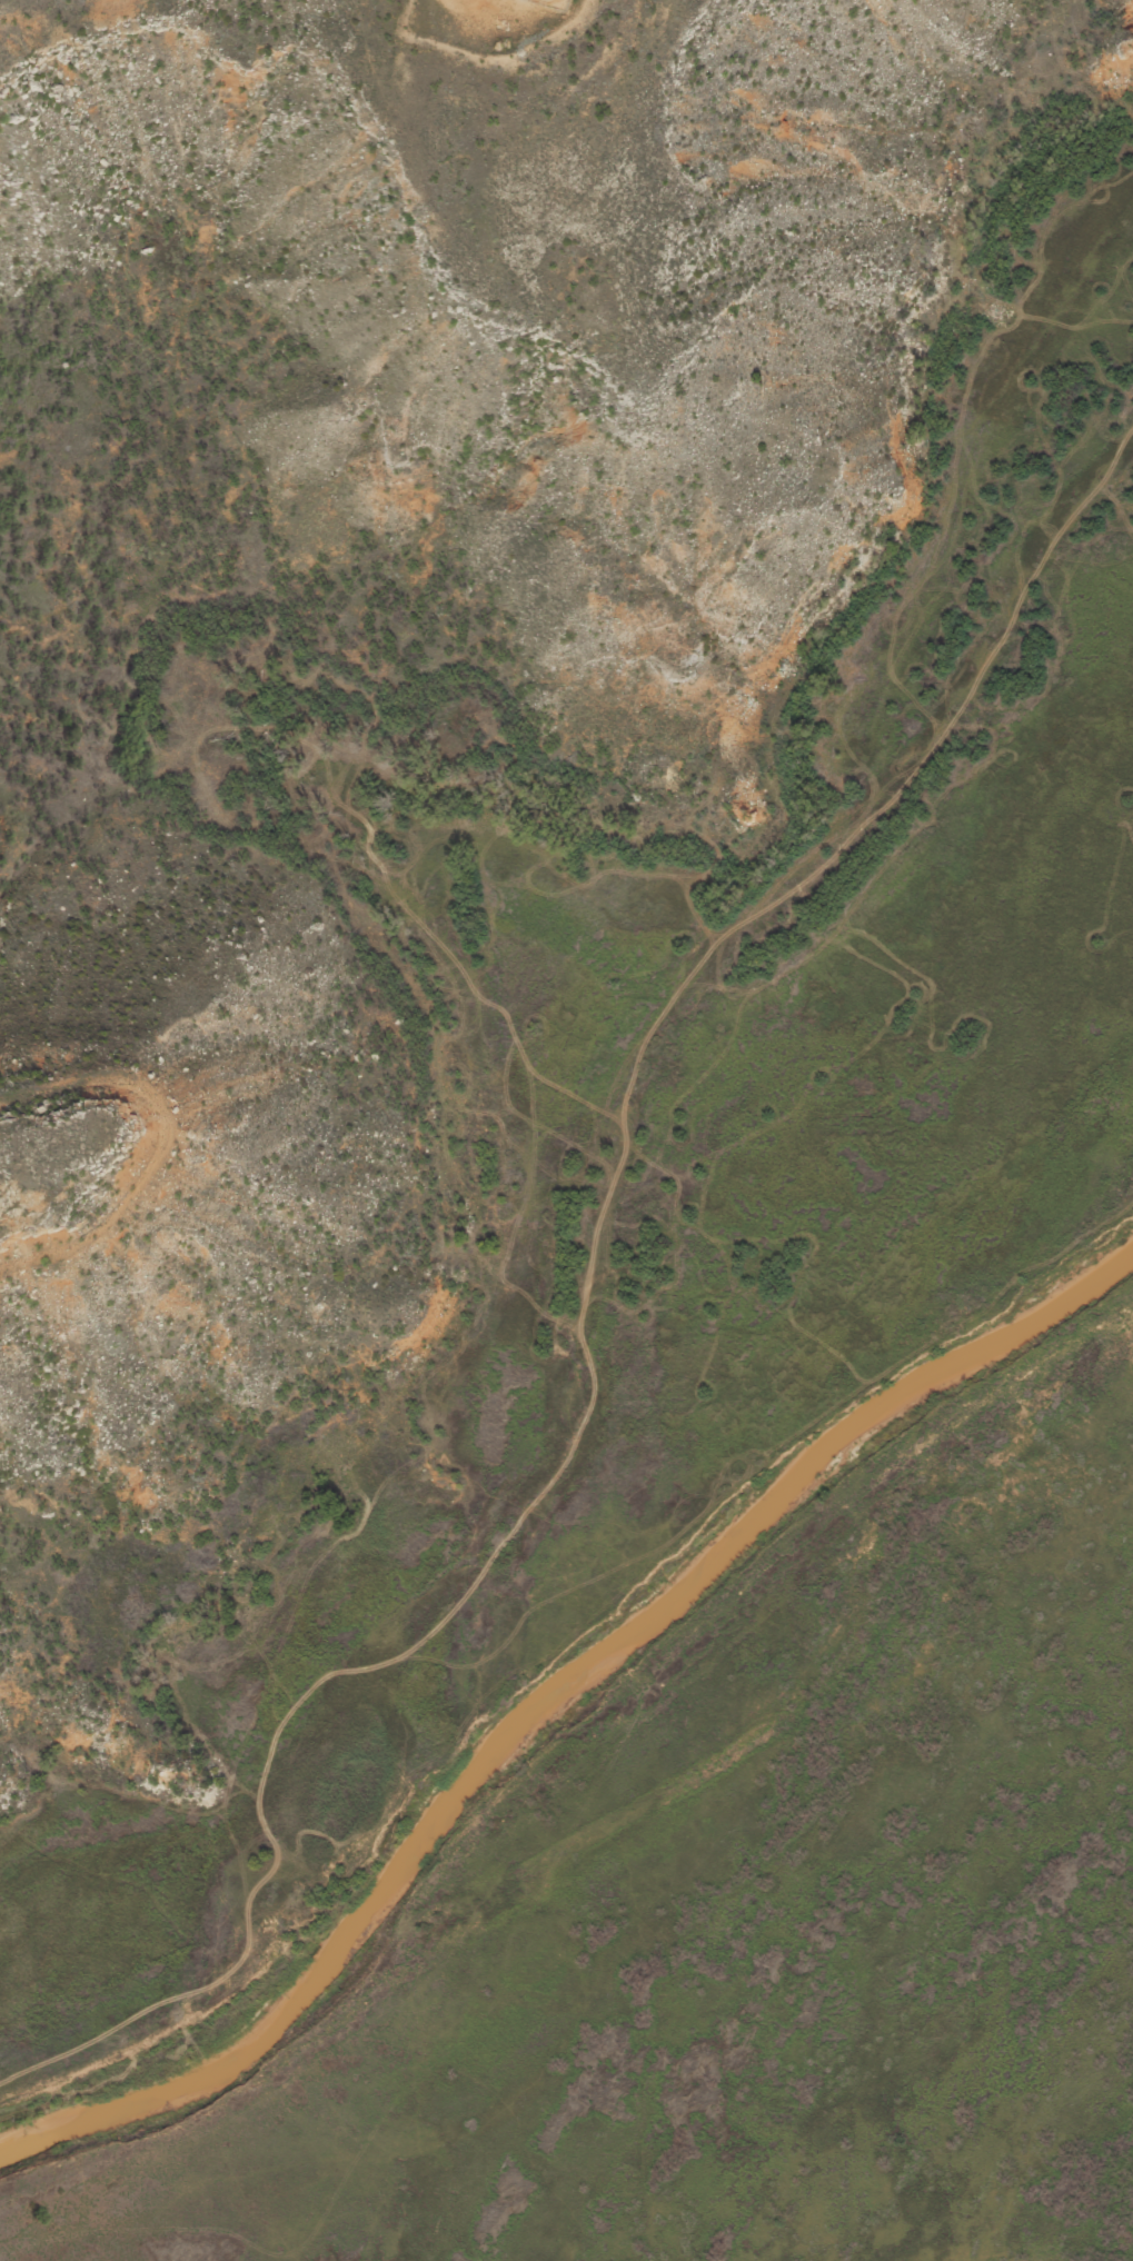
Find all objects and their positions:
river: (557, 1704)

